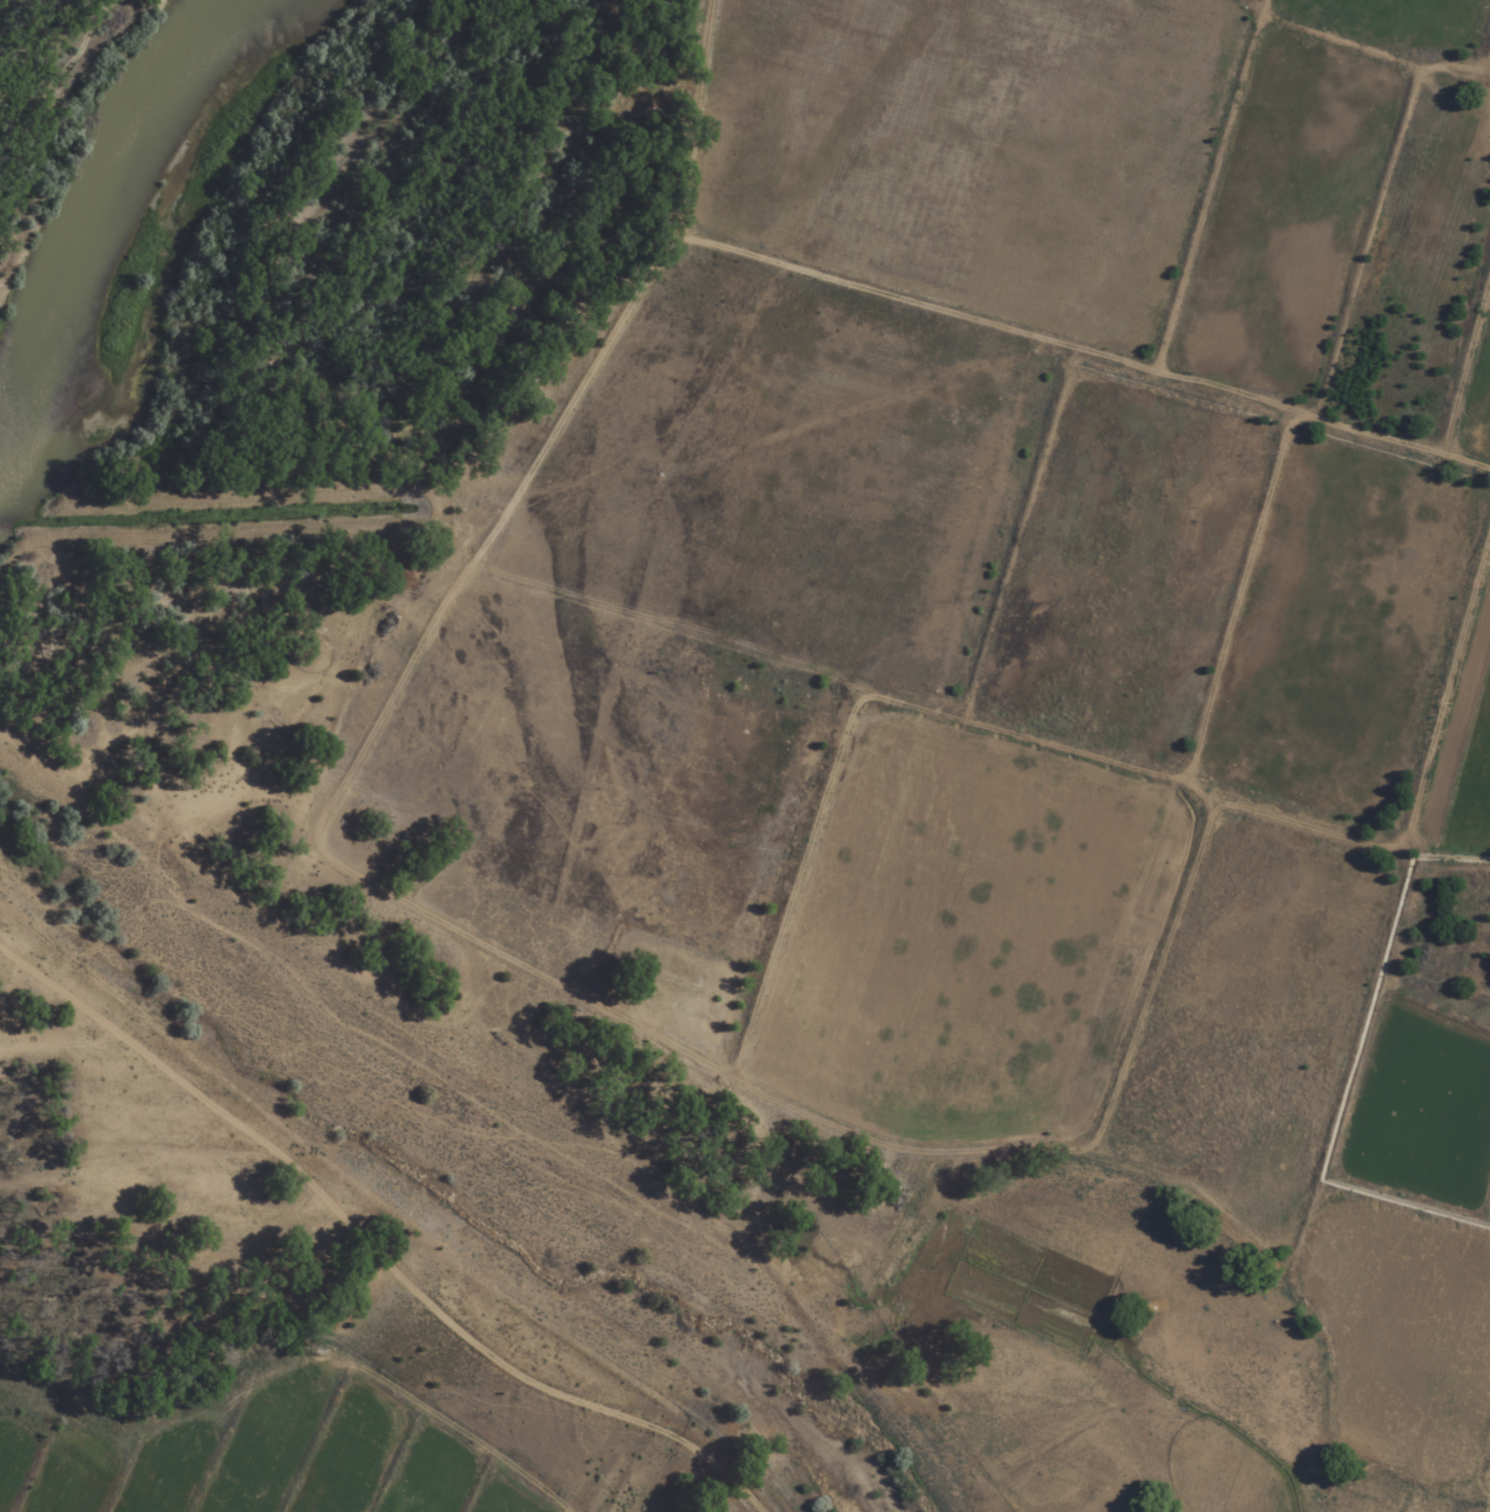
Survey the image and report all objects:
river: (115, 214)
river: (435, 1161)

